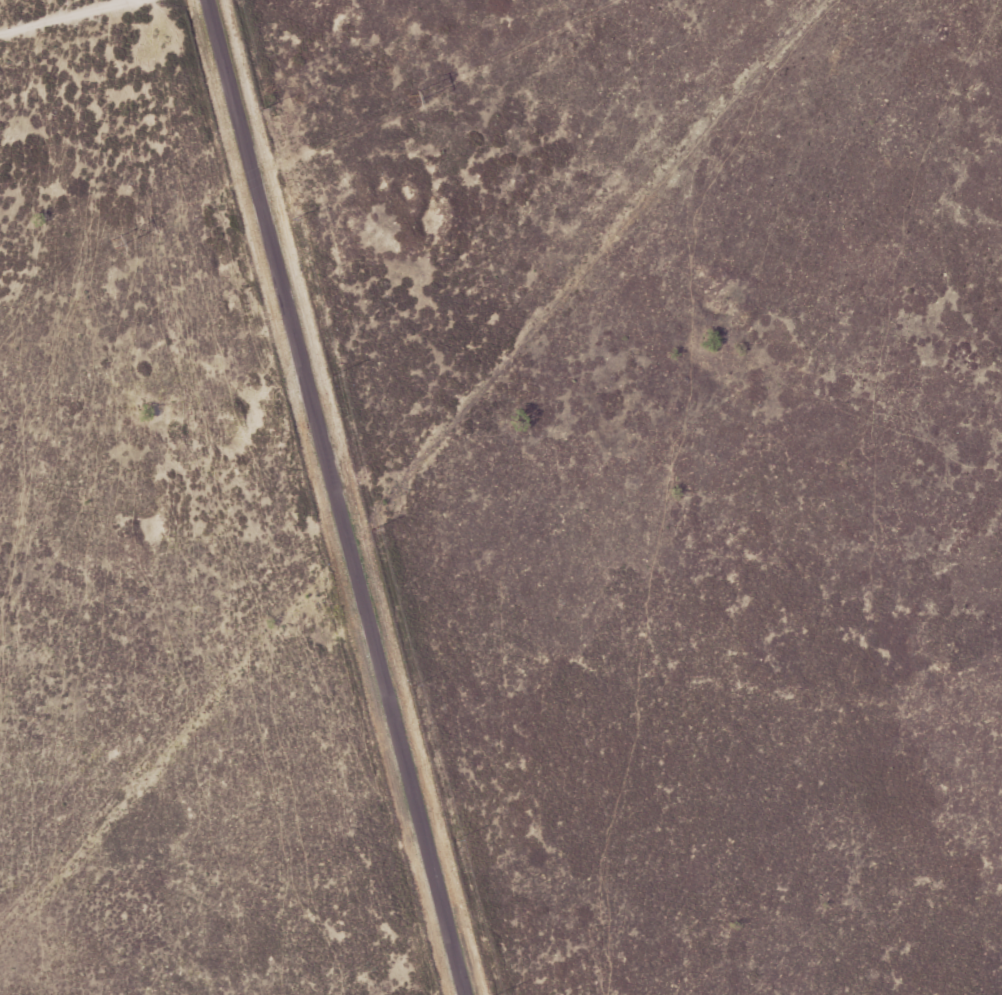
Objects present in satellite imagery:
road: (73, 21)
road: (223, 82)
power tower: (409, 97)
power tower: (114, 241)
road: (346, 580)

